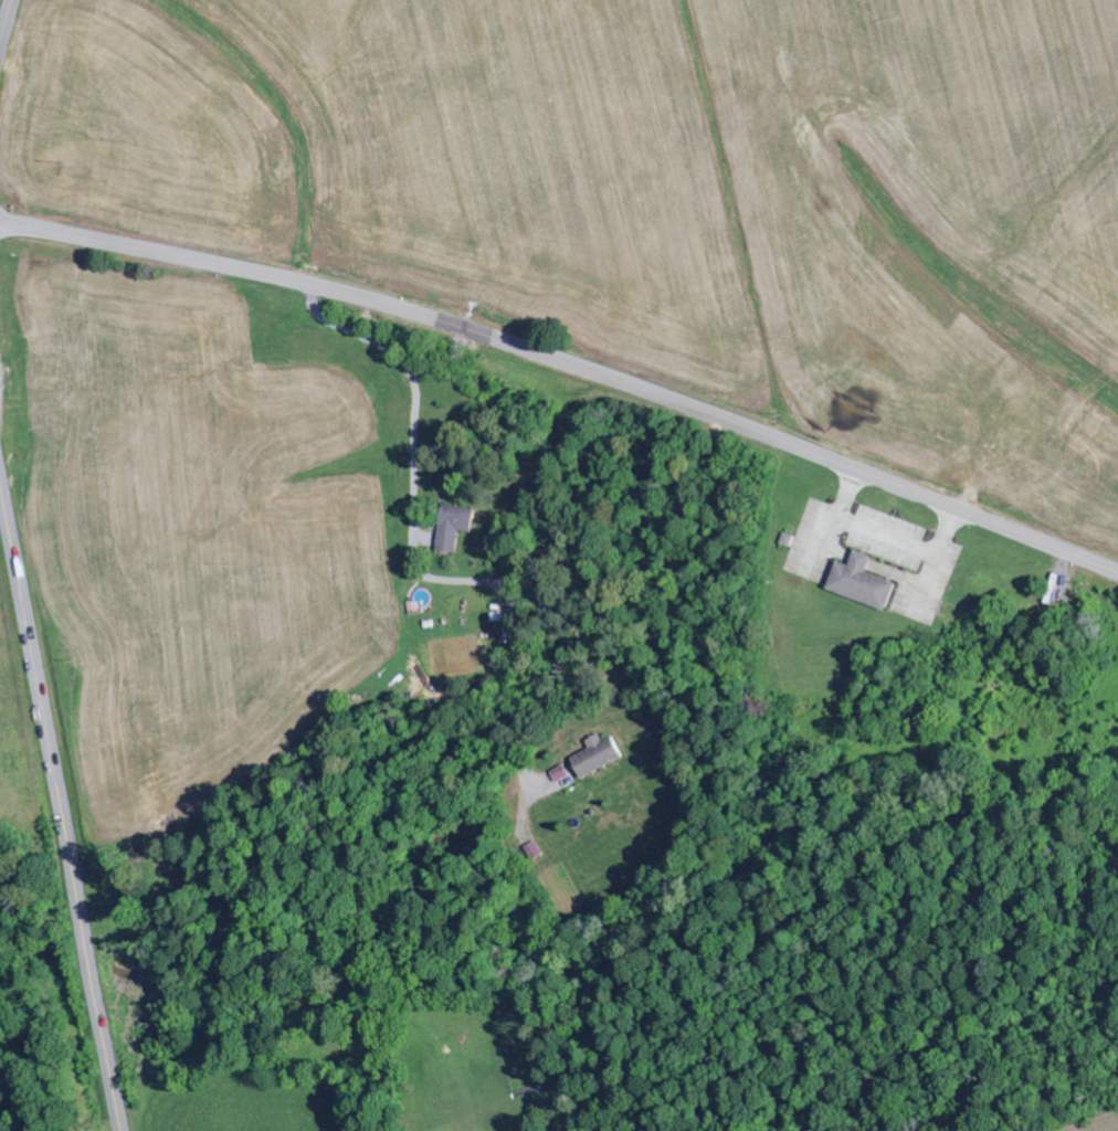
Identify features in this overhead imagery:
road: (7, 23)
road: (568, 362)
road: (1, 485)
building: (454, 527)
building: (862, 583)
building: (595, 757)
building: (559, 774)
road: (62, 803)
building: (534, 852)

